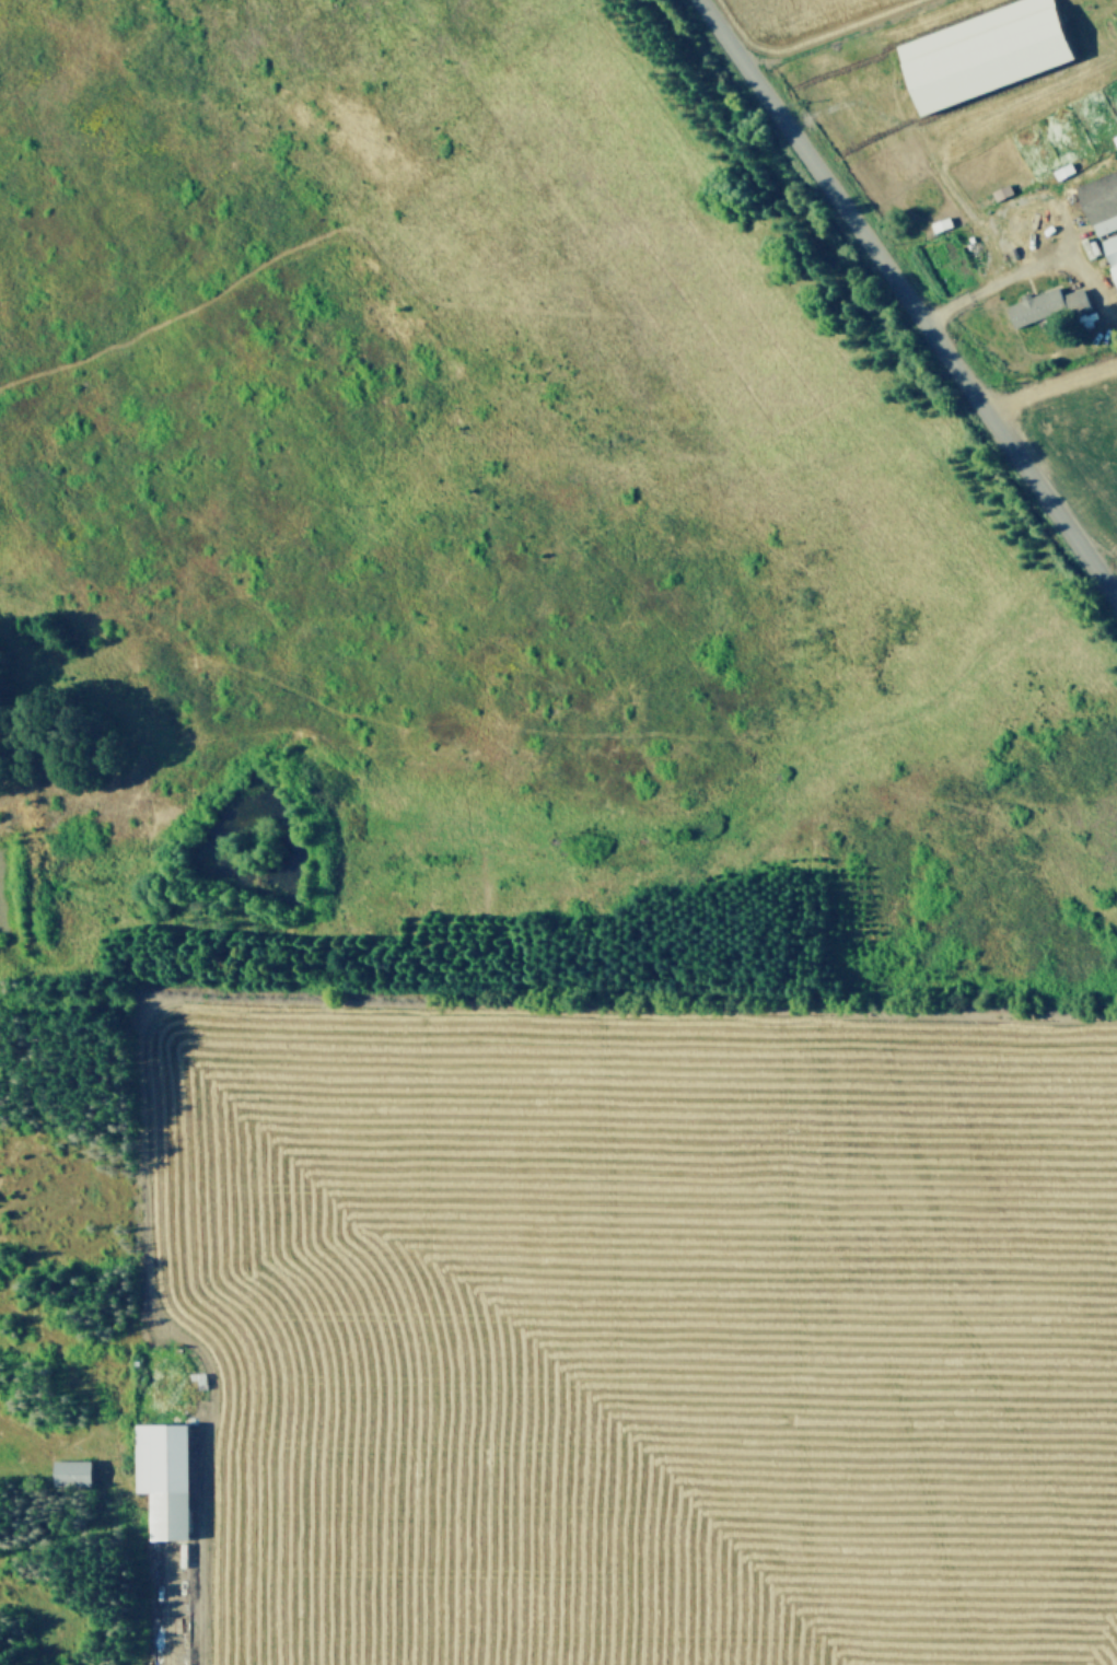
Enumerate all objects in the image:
building: (989, 53)
building: (1101, 200)
building: (1112, 248)
road: (990, 283)
road: (906, 300)
building: (1048, 305)
road: (1050, 386)
crop: (558, 832)
building: (68, 1470)
building: (160, 1474)

